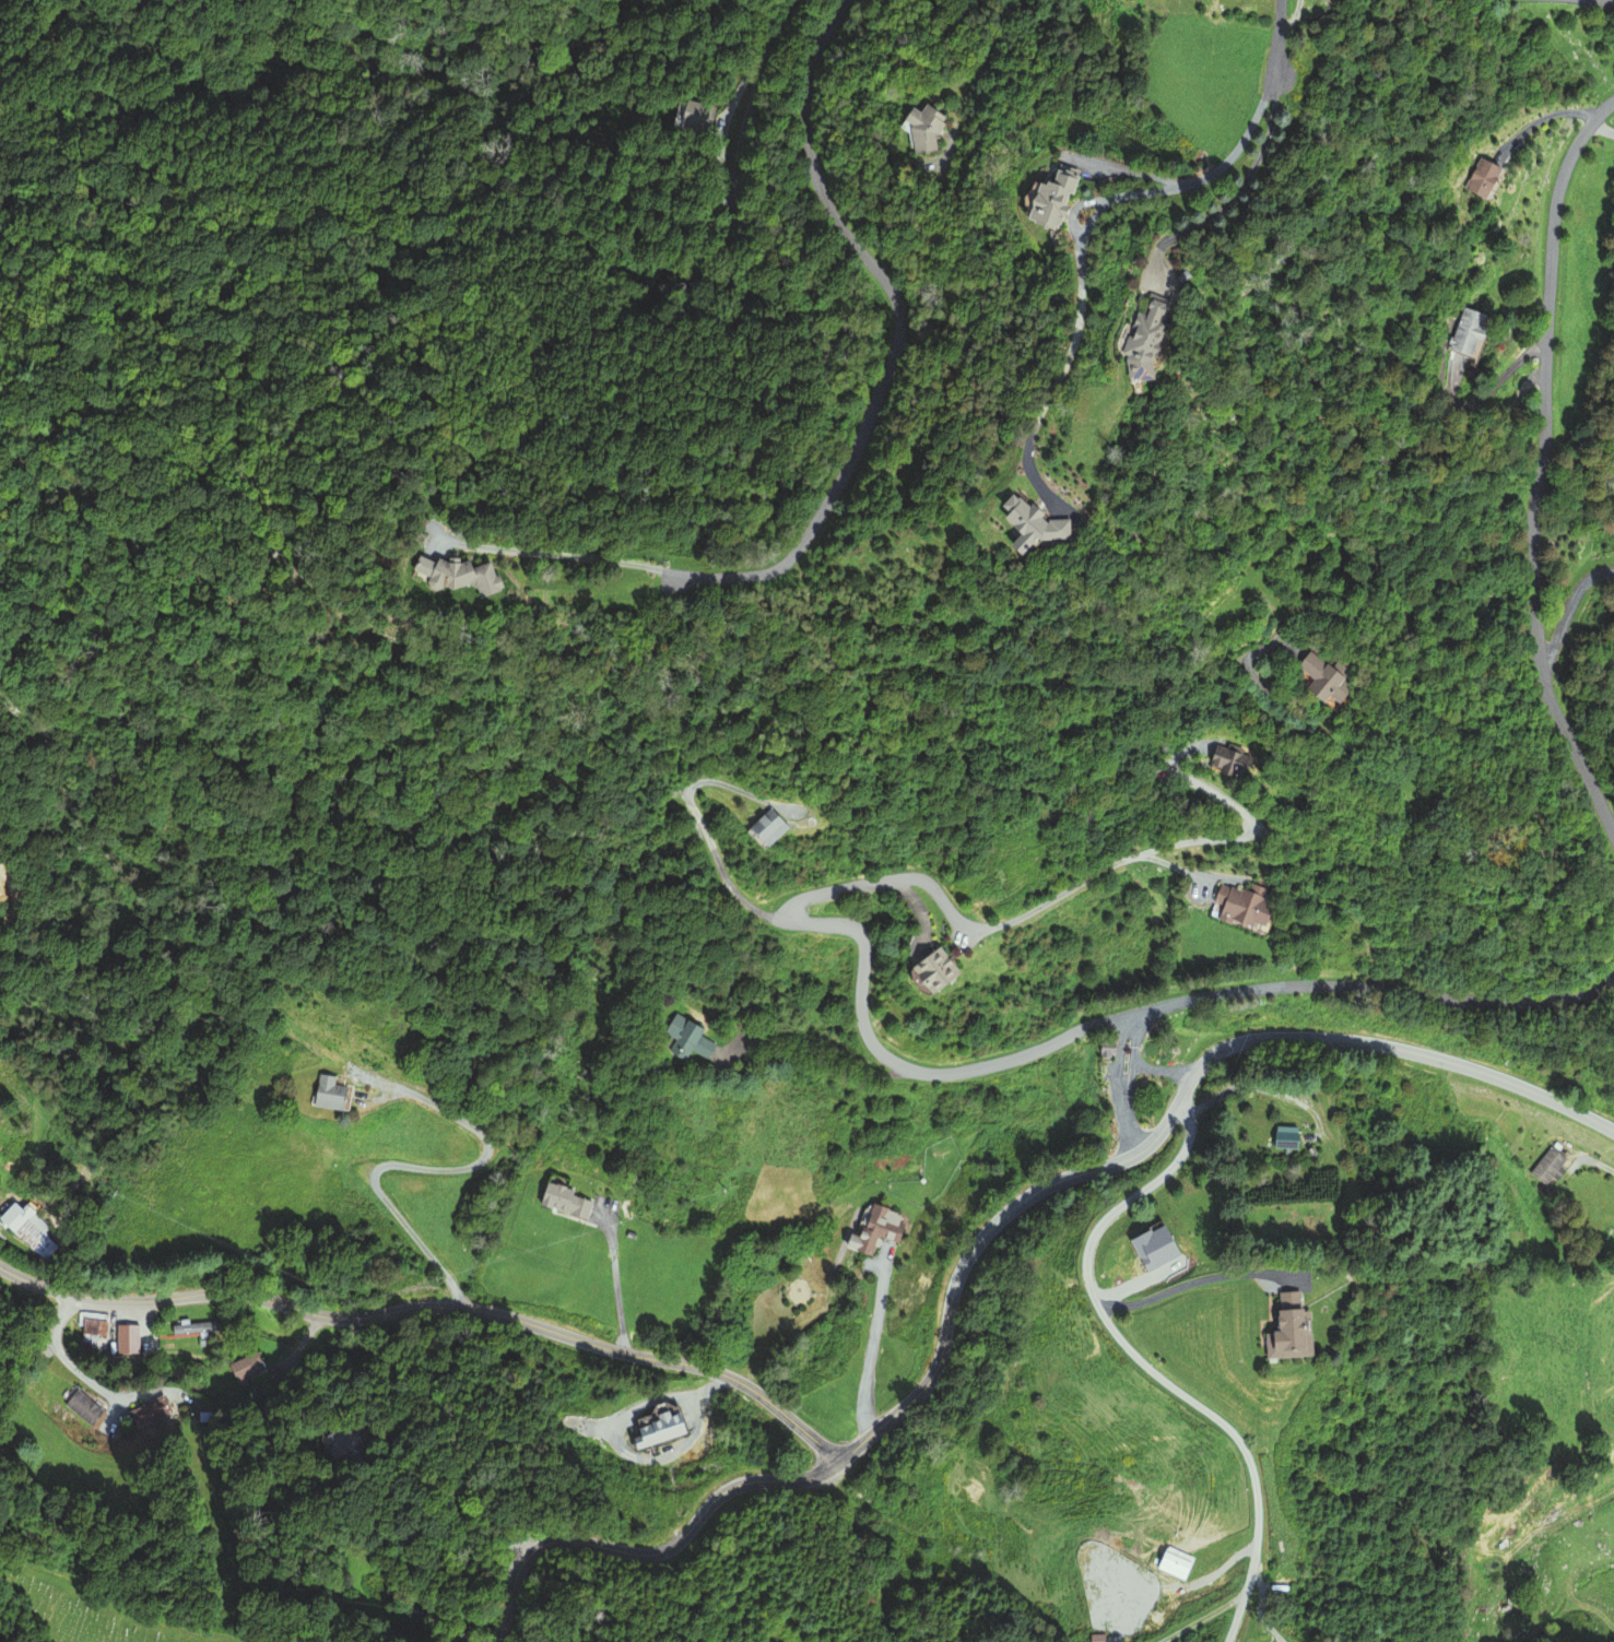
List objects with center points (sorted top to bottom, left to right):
road: (1611, 0)
road: (784, 28)
road: (1277, 38)
road: (977, 68)
building: (921, 127)
road: (1601, 129)
building: (1473, 177)
road: (724, 197)
building: (1051, 202)
road: (1103, 204)
building: (1458, 331)
road: (897, 340)
building: (1133, 340)
road: (1540, 466)
road: (565, 555)
building: (453, 576)
road: (1568, 592)
road: (1406, 650)
building: (1316, 681)
building: (1230, 759)
building: (769, 830)
road: (705, 834)
road: (1159, 846)
building: (1235, 908)
building: (920, 971)
road: (861, 972)
road: (1374, 987)
building: (684, 1040)
building: (1105, 1048)
road: (1119, 1053)
road: (1132, 1055)
road: (1161, 1071)
building: (335, 1094)
road: (1167, 1120)
road: (1127, 1125)
building: (1282, 1138)
building: (940, 1145)
building: (1546, 1167)
building: (567, 1201)
building: (877, 1228)
building: (34, 1230)
road: (1192, 1281)
road: (433, 1308)
building: (97, 1325)
building: (200, 1326)
building: (1280, 1332)
road: (1143, 1363)
building: (250, 1368)
building: (82, 1408)
building: (151, 1414)
building: (653, 1428)
building: (333, 1443)
road: (651, 1554)
building: (1175, 1564)
park: (83, 1613)

